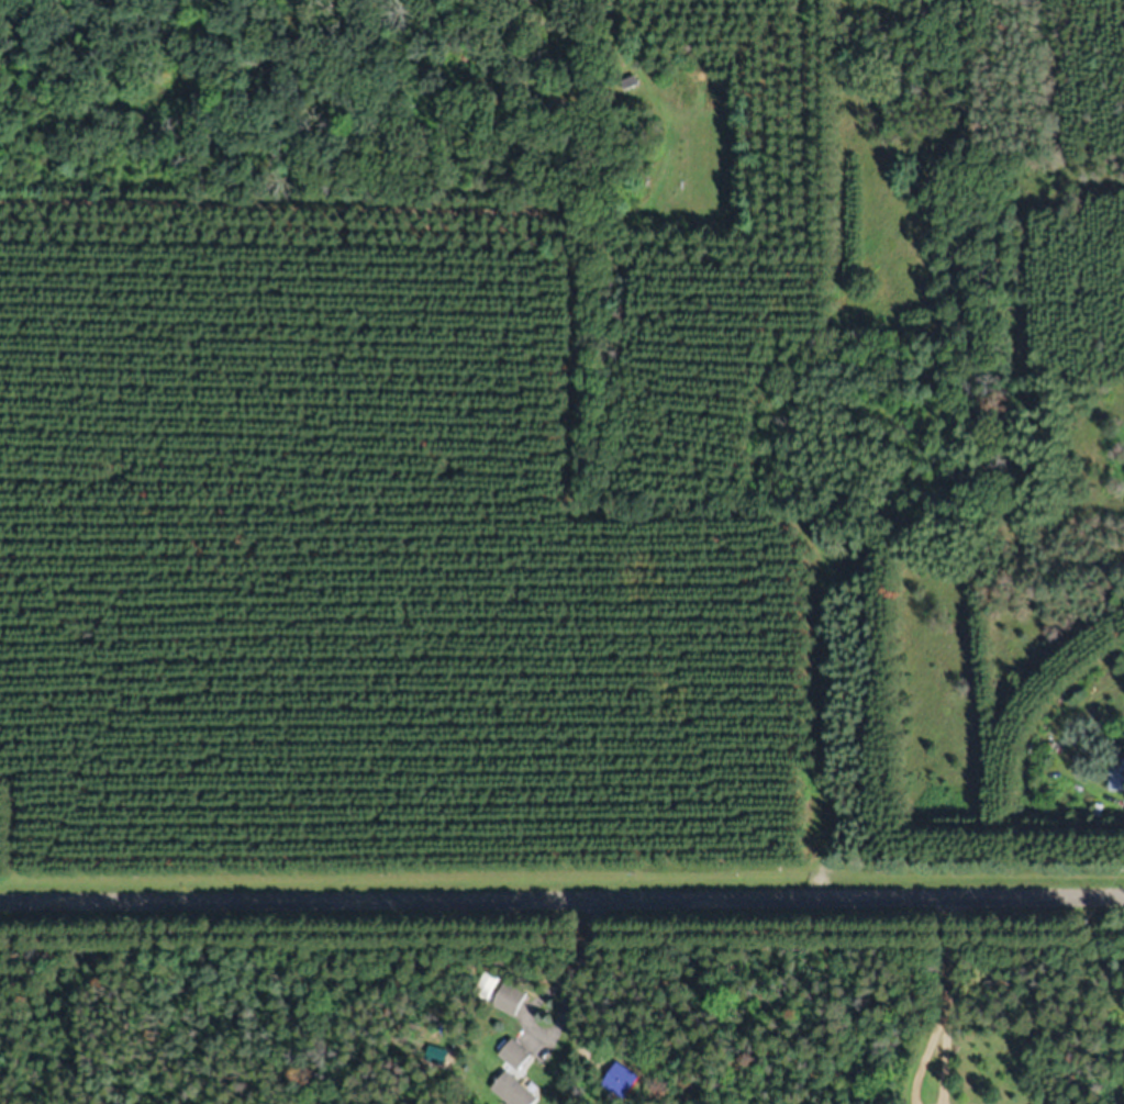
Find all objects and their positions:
building: (1116, 774)
road: (561, 894)
building: (486, 985)
building: (511, 999)
building: (515, 1055)
building: (513, 1091)

